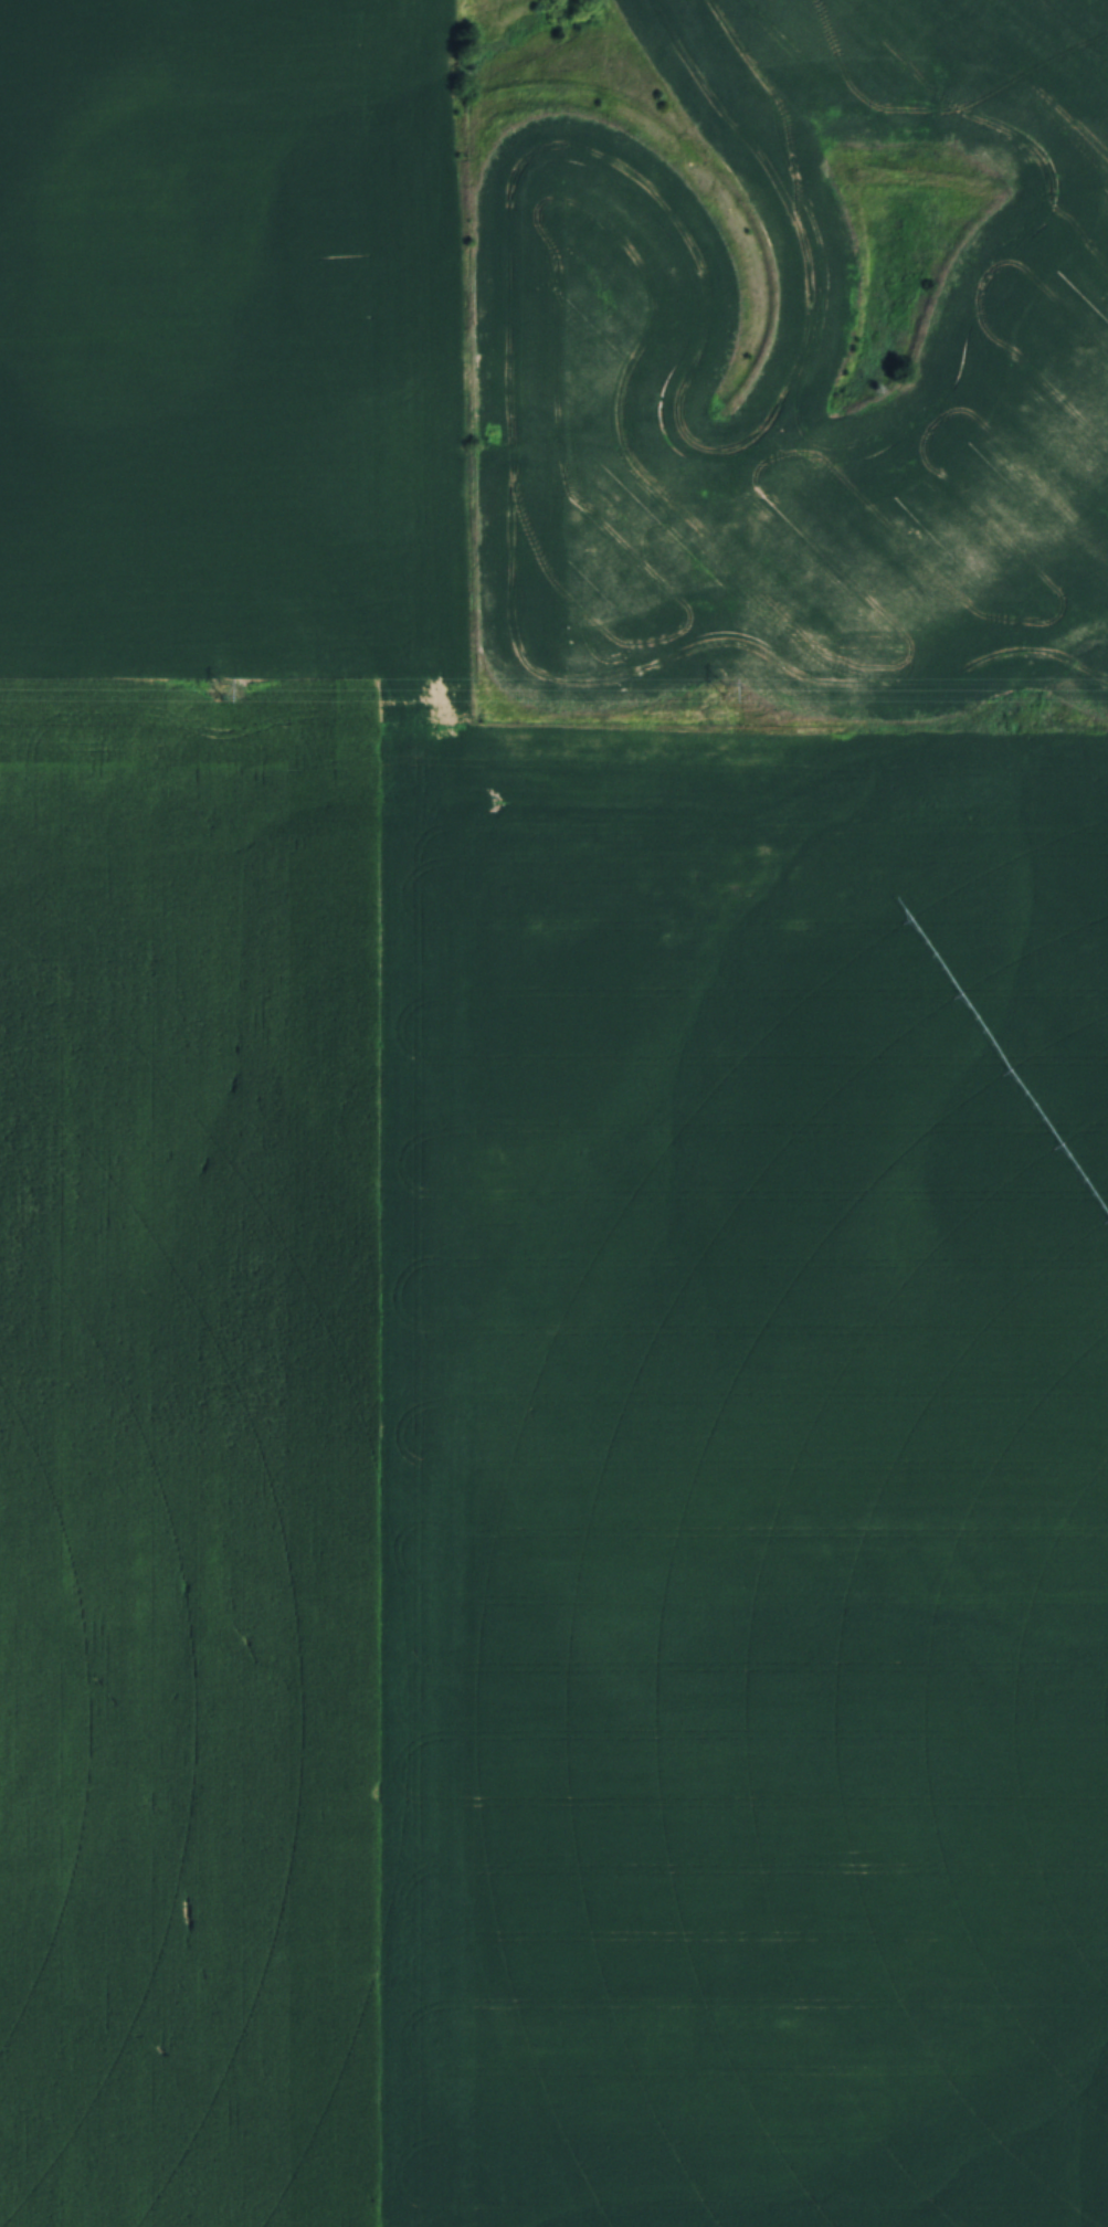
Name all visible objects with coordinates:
power tower: (721, 684)
power tower: (219, 685)

